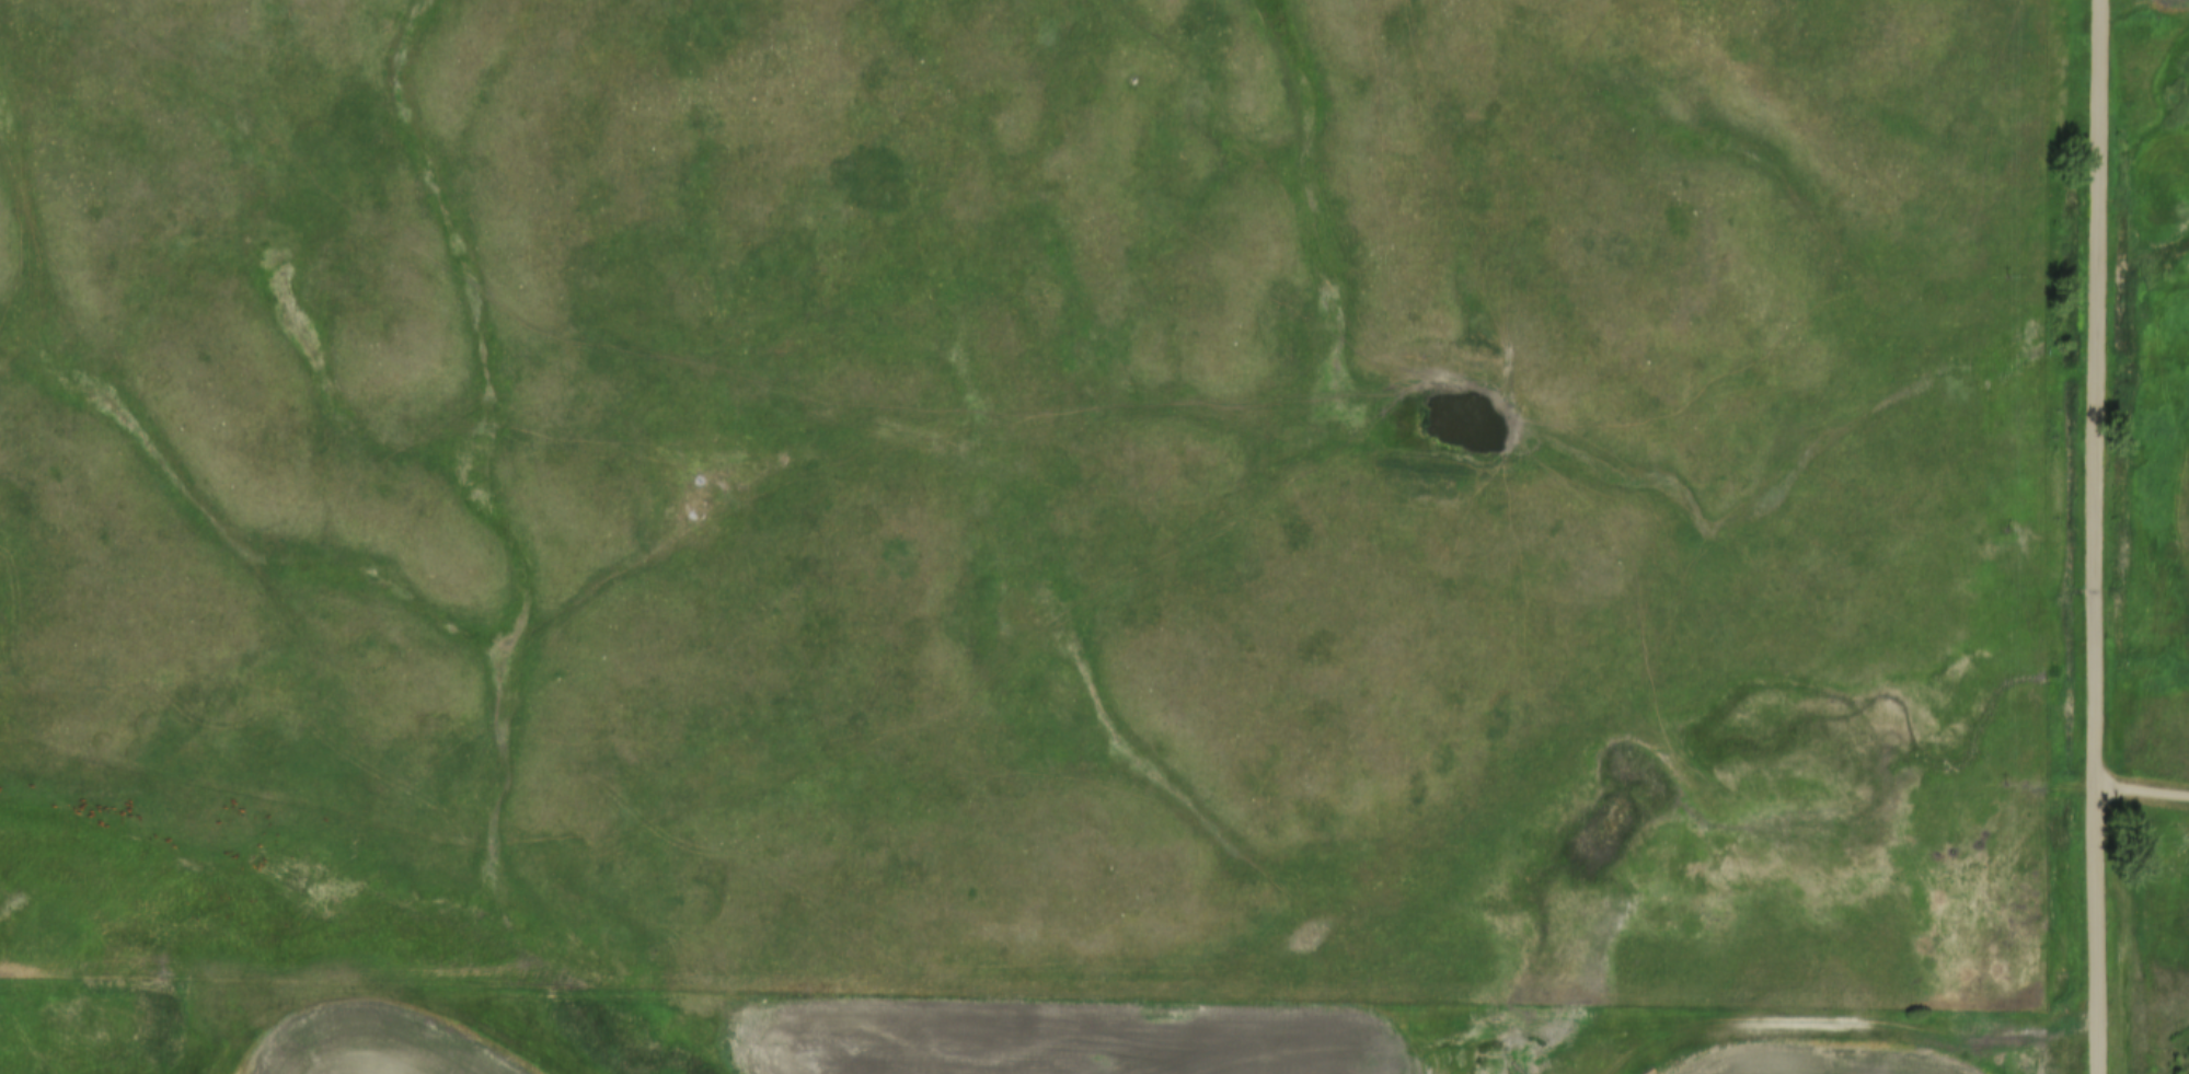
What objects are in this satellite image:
road: (2098, 536)
road: (2143, 793)

